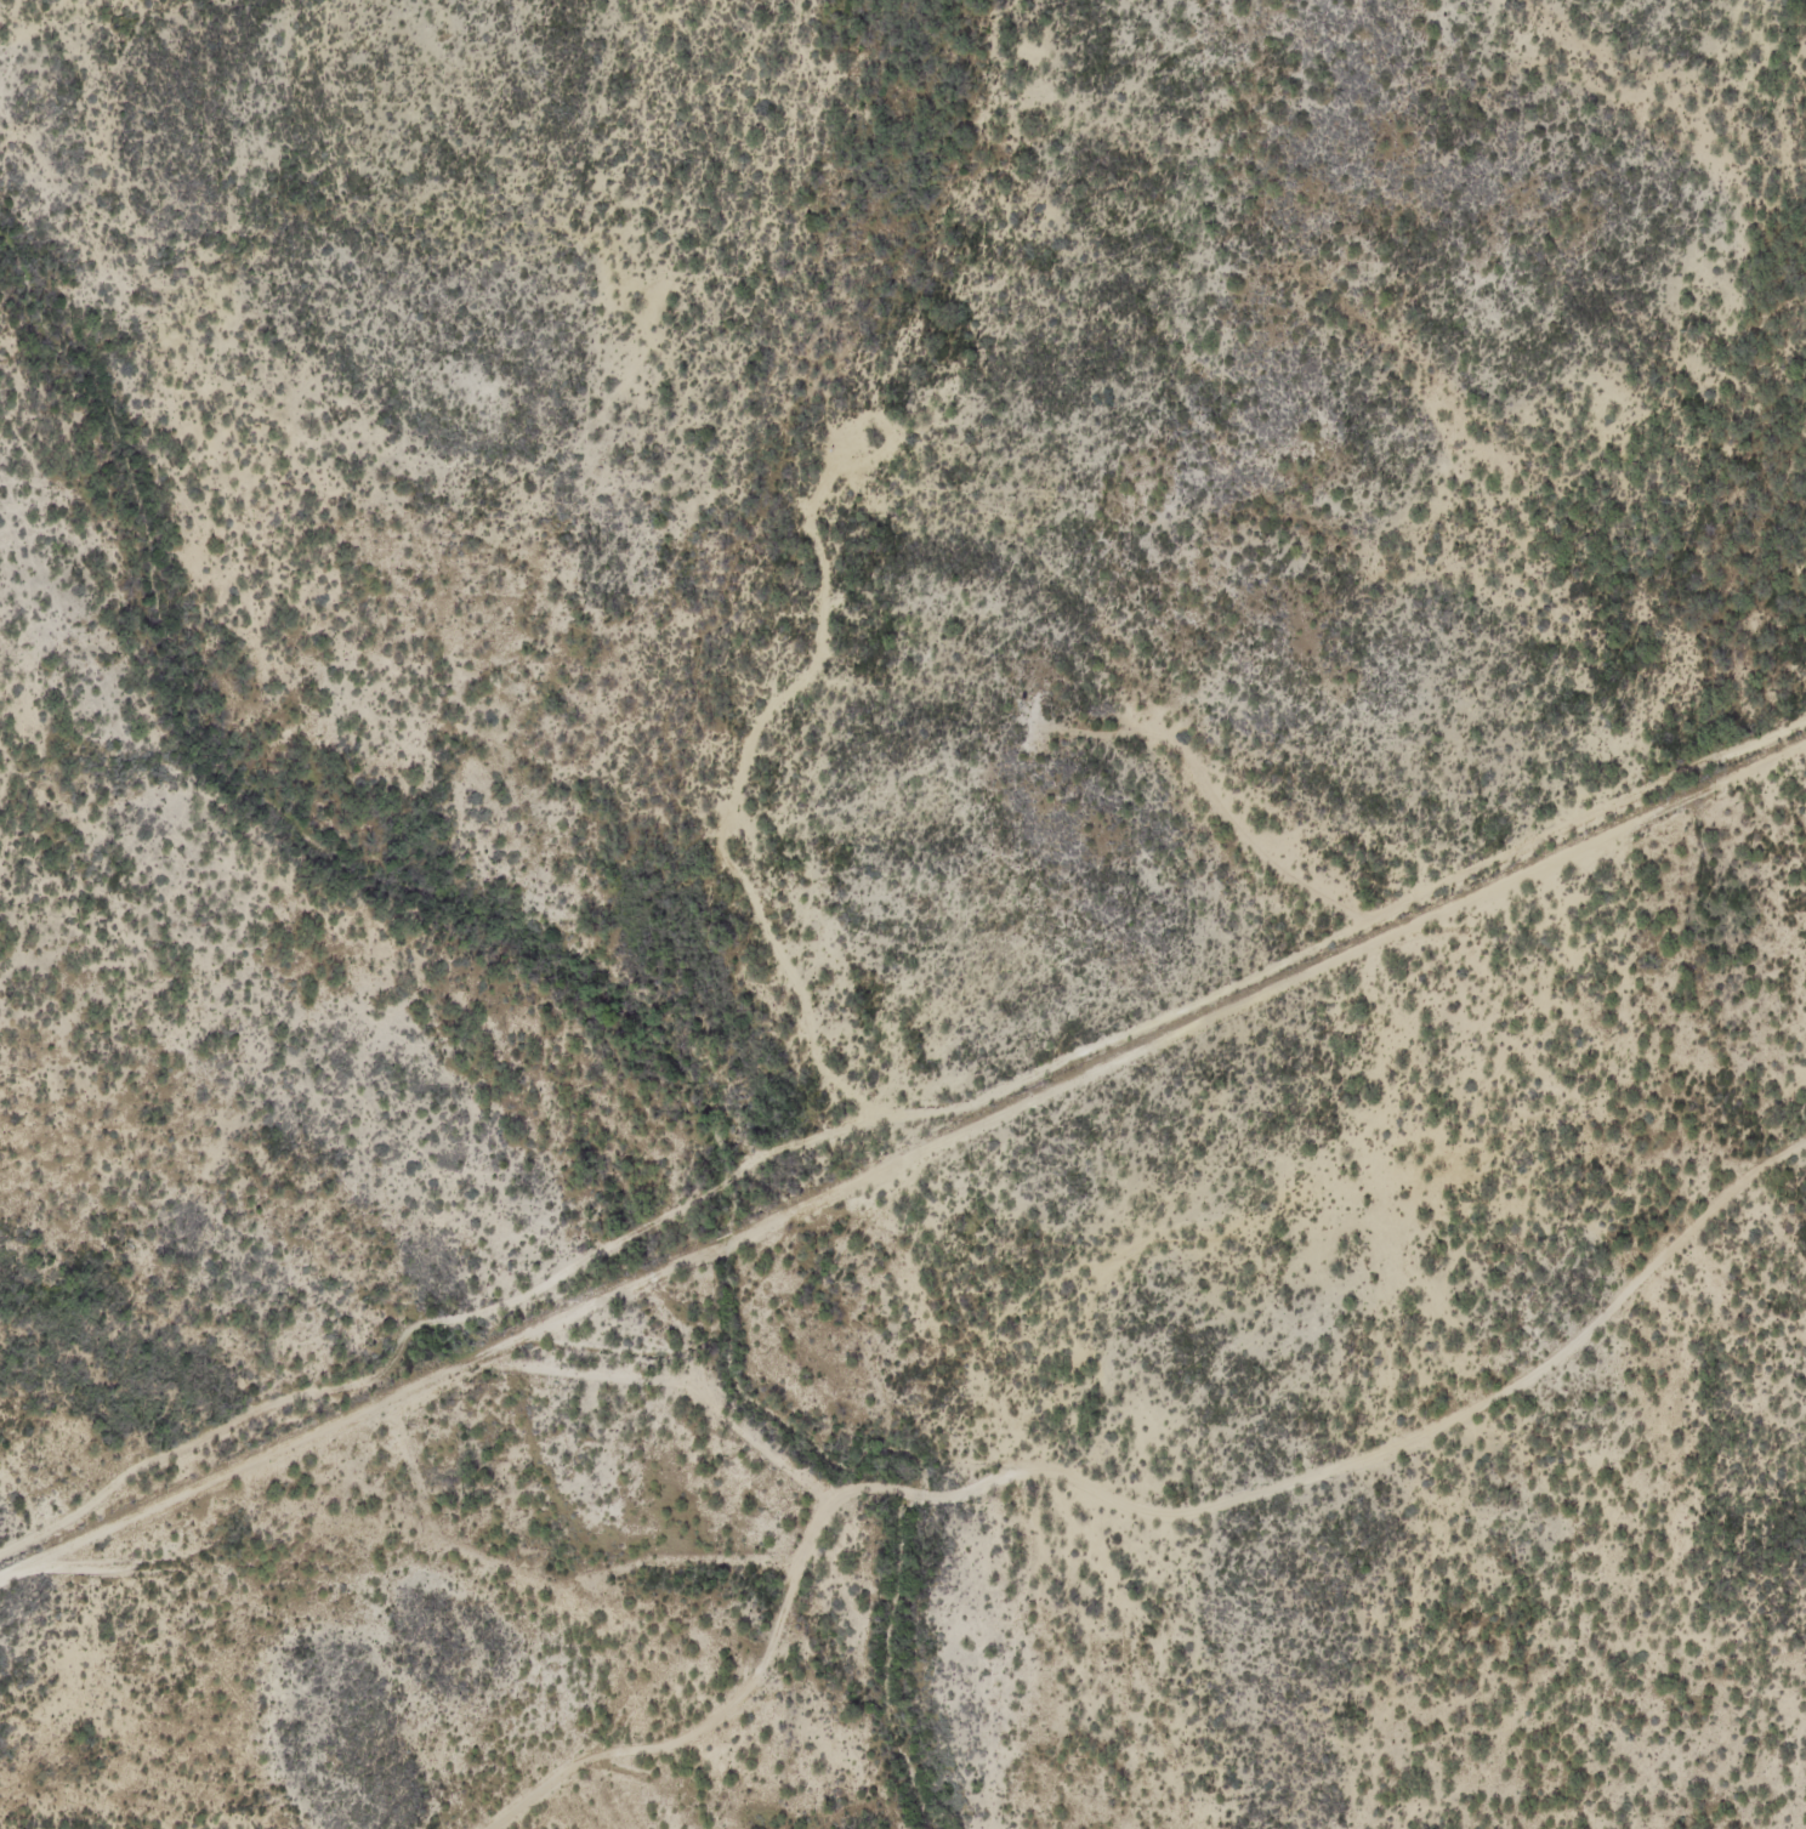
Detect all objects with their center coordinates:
road: (903, 1146)

